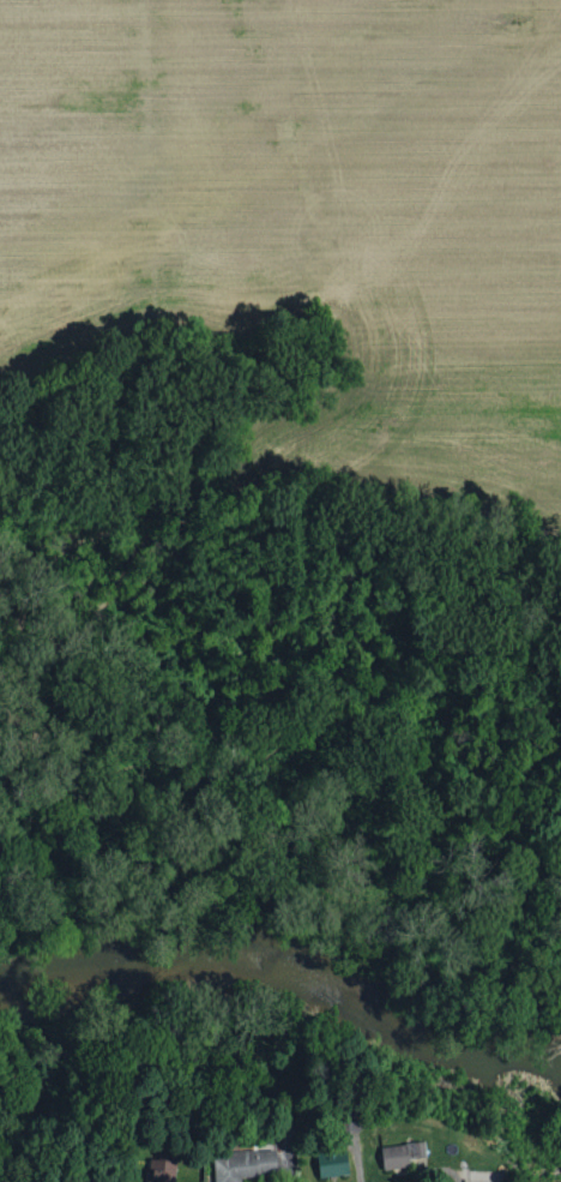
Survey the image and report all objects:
river: (291, 968)
building: (403, 1154)
building: (333, 1164)
building: (242, 1165)
building: (159, 1171)

